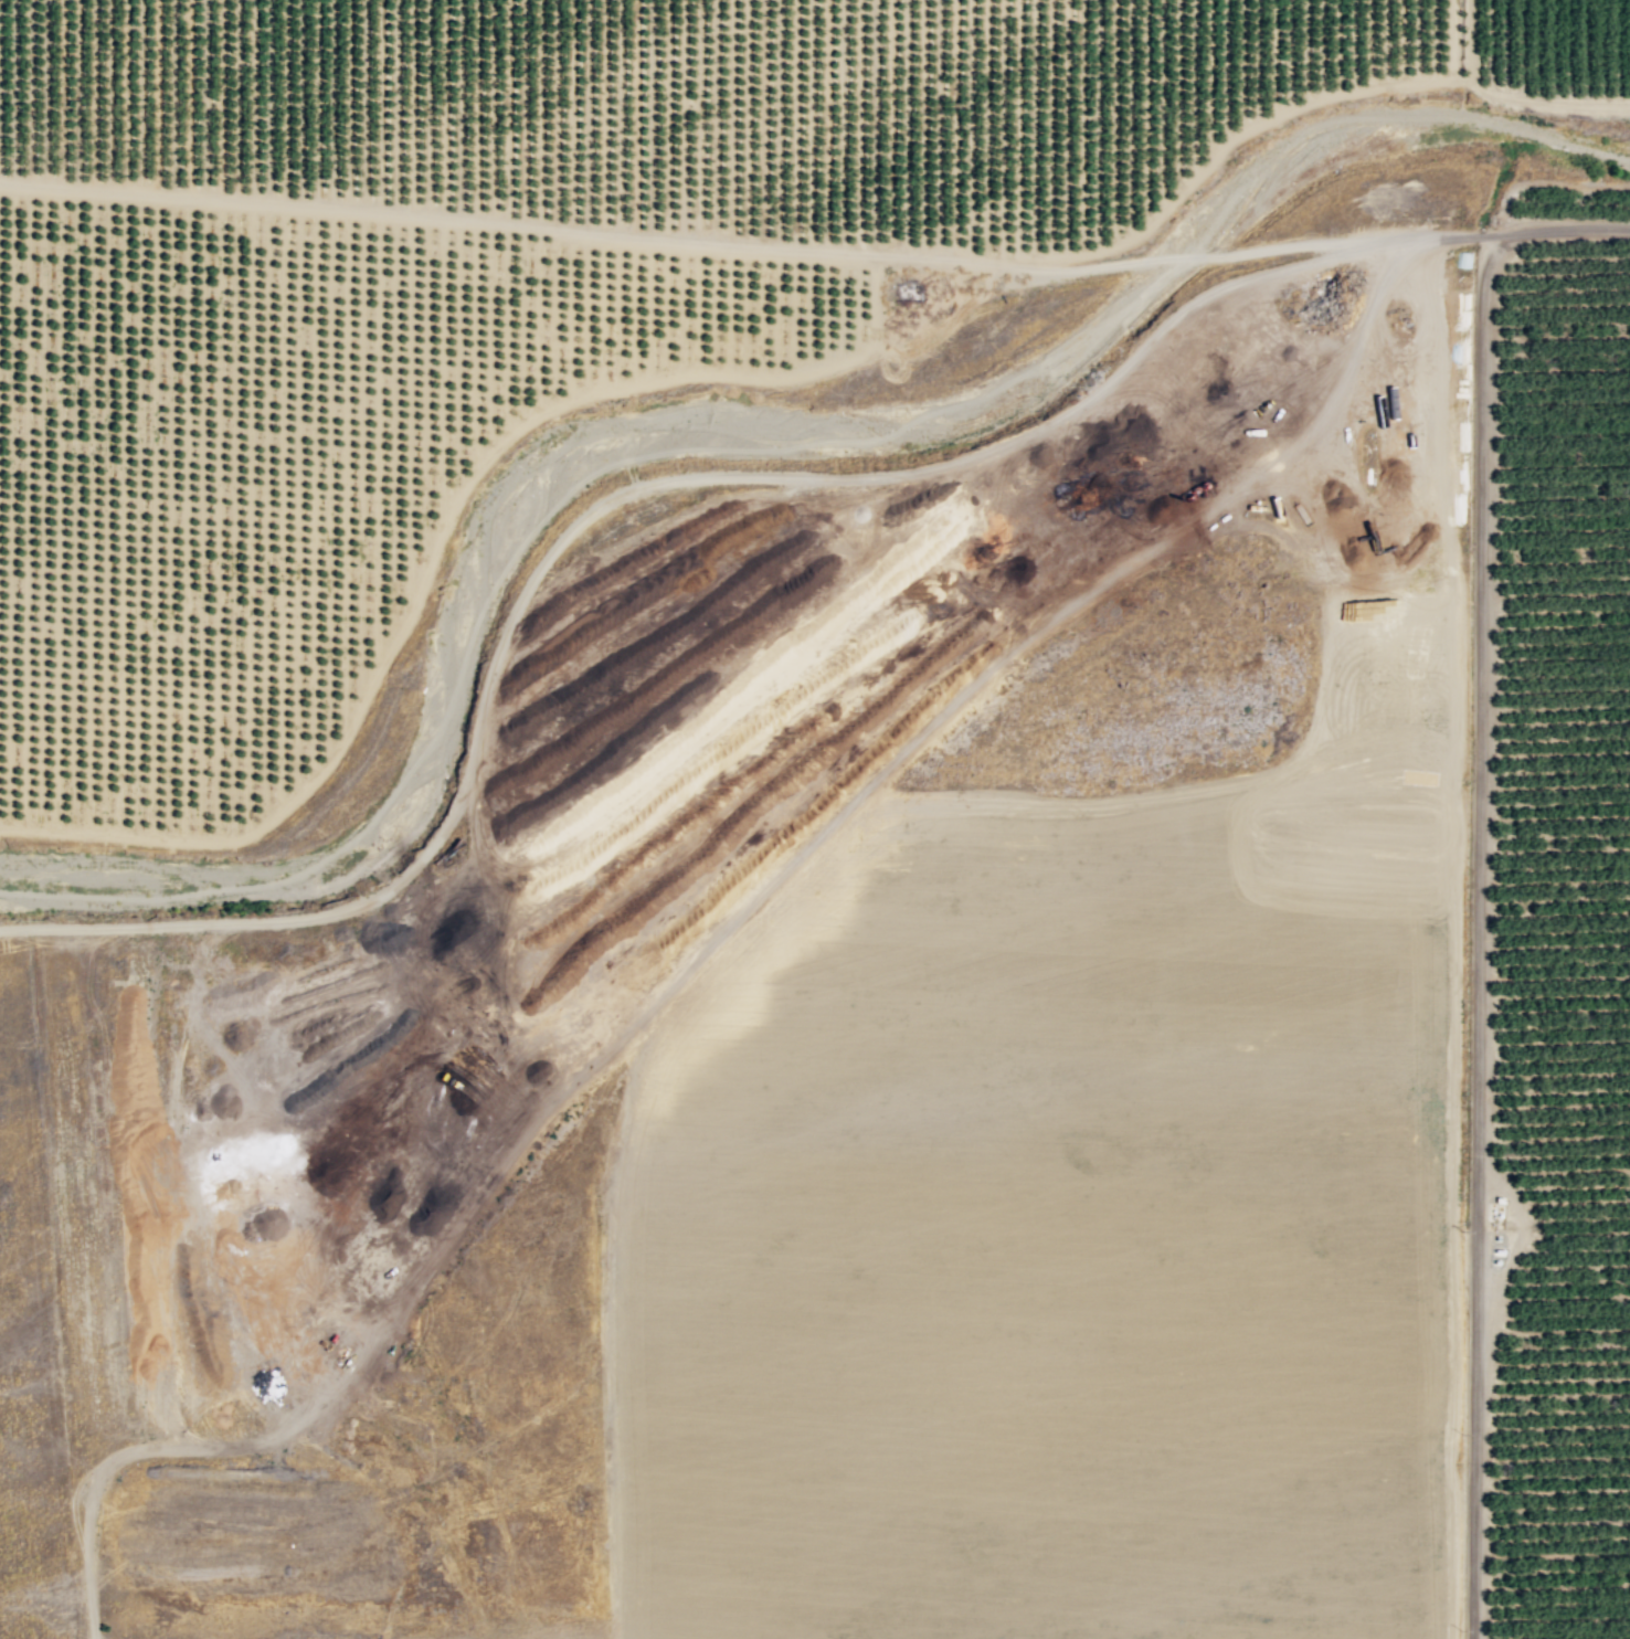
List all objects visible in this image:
road: (1452, 40)
road: (1468, 41)
road: (1293, 112)
road: (1518, 230)
road: (703, 244)
road: (1122, 472)
road: (1432, 480)
road: (614, 495)
road: (447, 525)
road: (1476, 930)
road: (710, 943)

